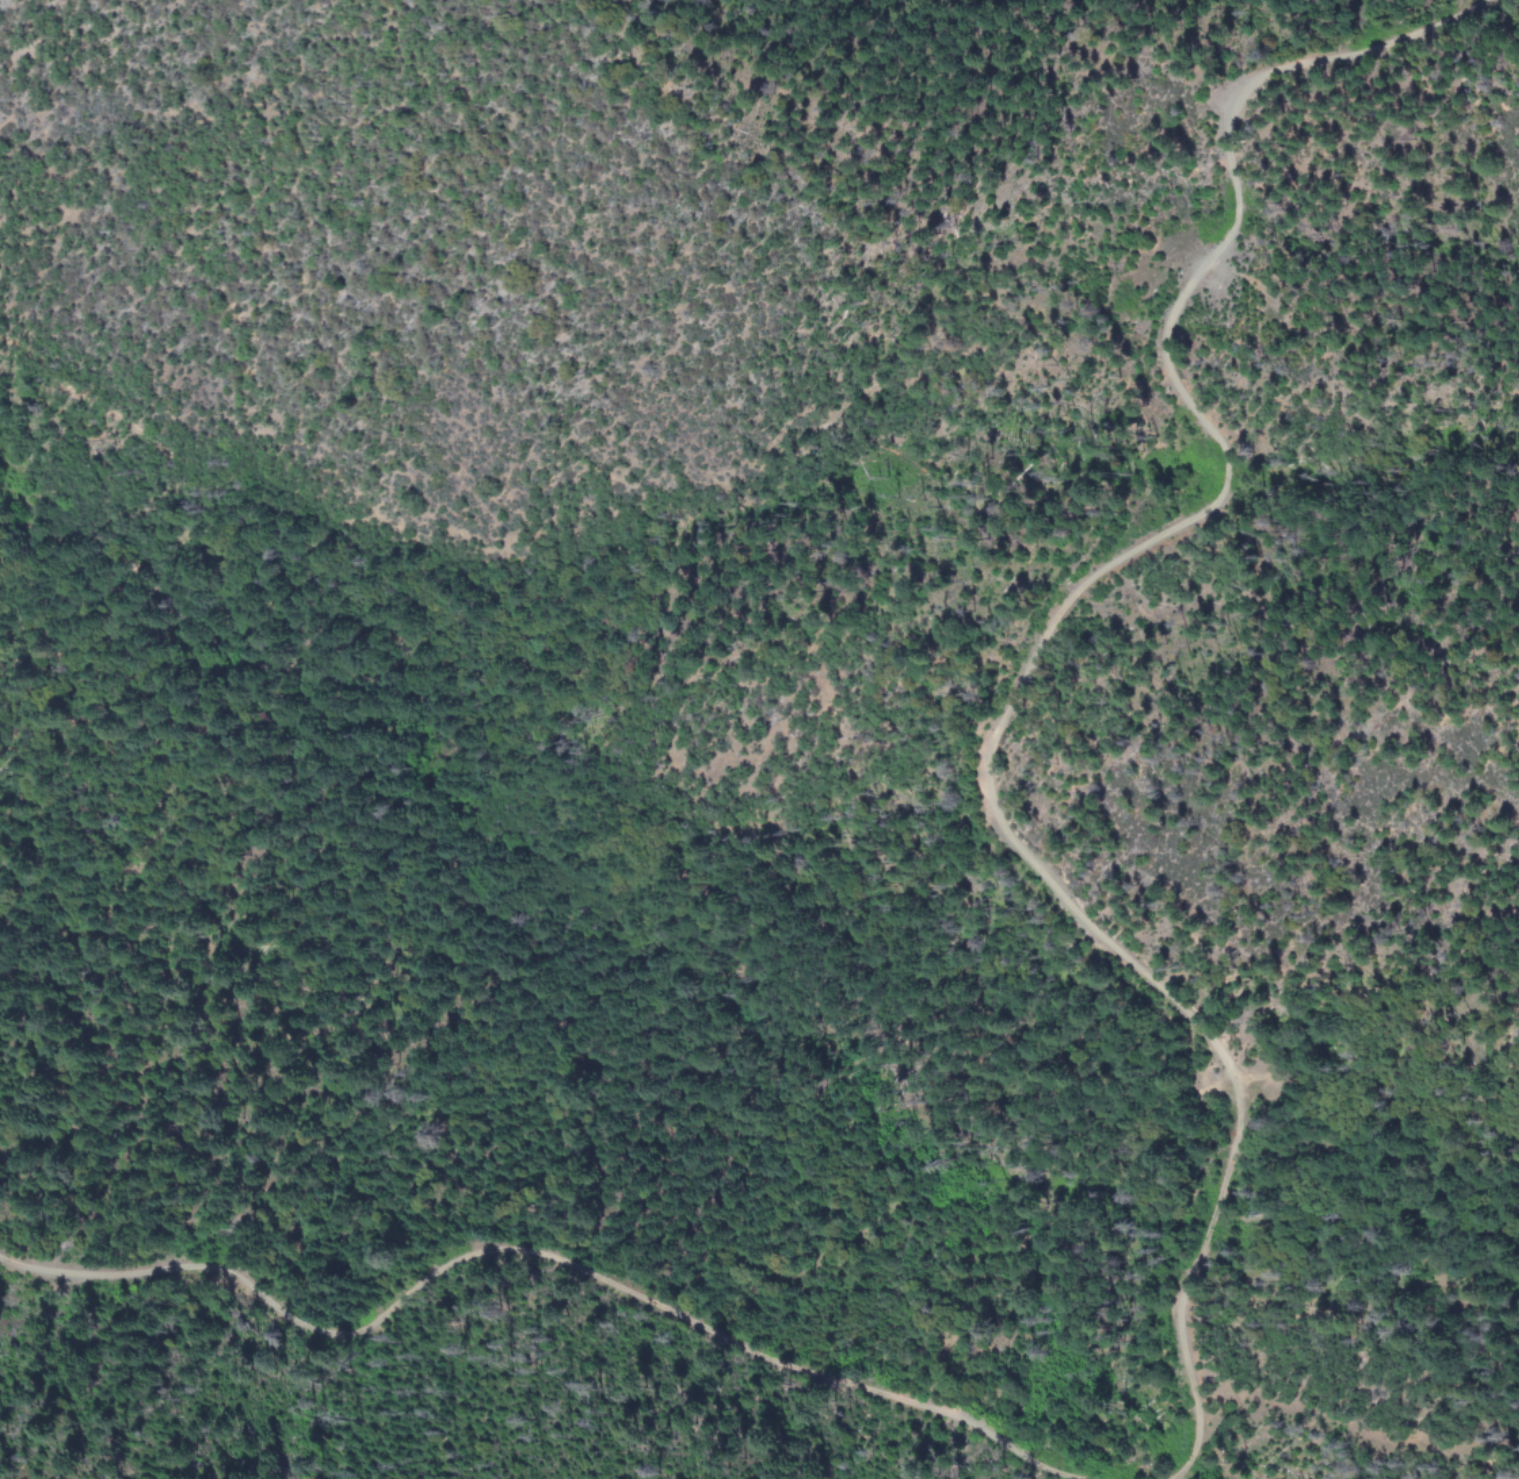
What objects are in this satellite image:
road: (581, 767)

